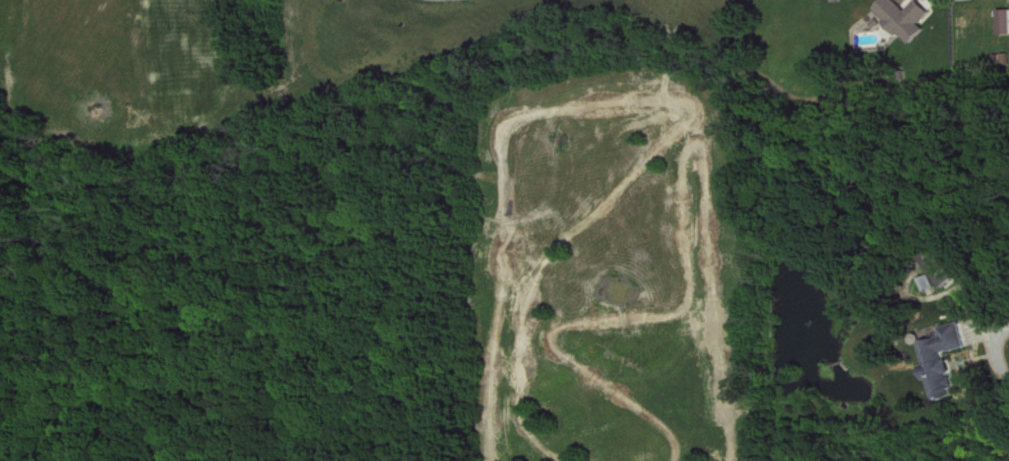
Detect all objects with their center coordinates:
building: (908, 18)
building: (1006, 21)
building: (952, 266)
road: (998, 346)
building: (951, 360)

